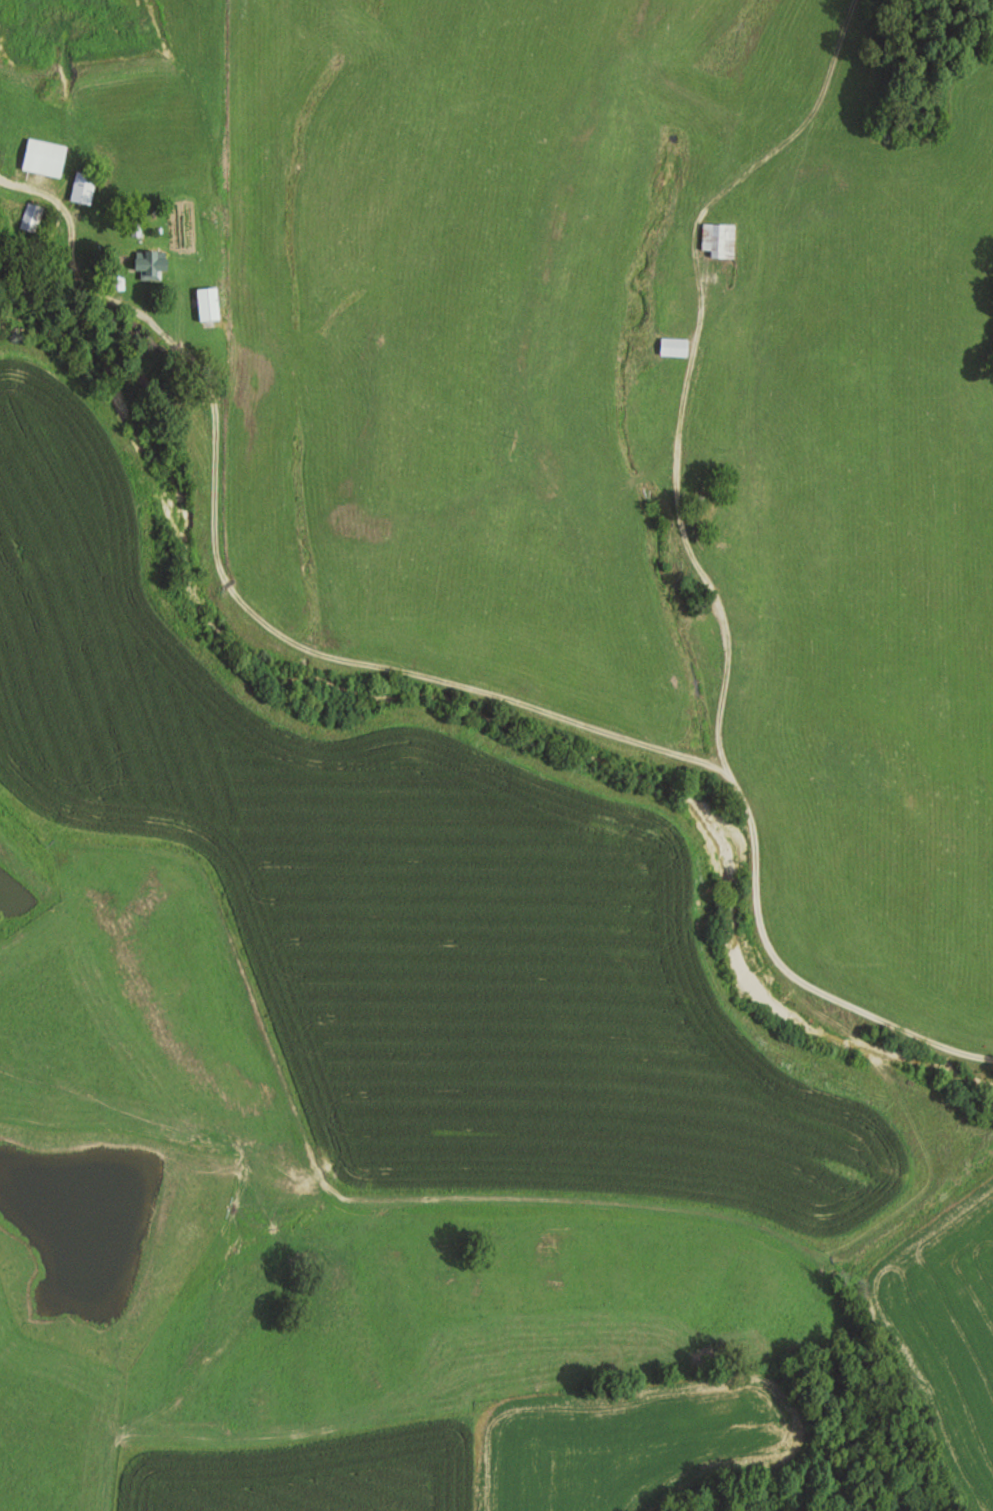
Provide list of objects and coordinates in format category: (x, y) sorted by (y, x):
building: (43, 157)
building: (81, 187)
building: (717, 239)
building: (150, 264)
building: (206, 303)
building: (672, 347)
road: (683, 538)
road: (425, 691)

